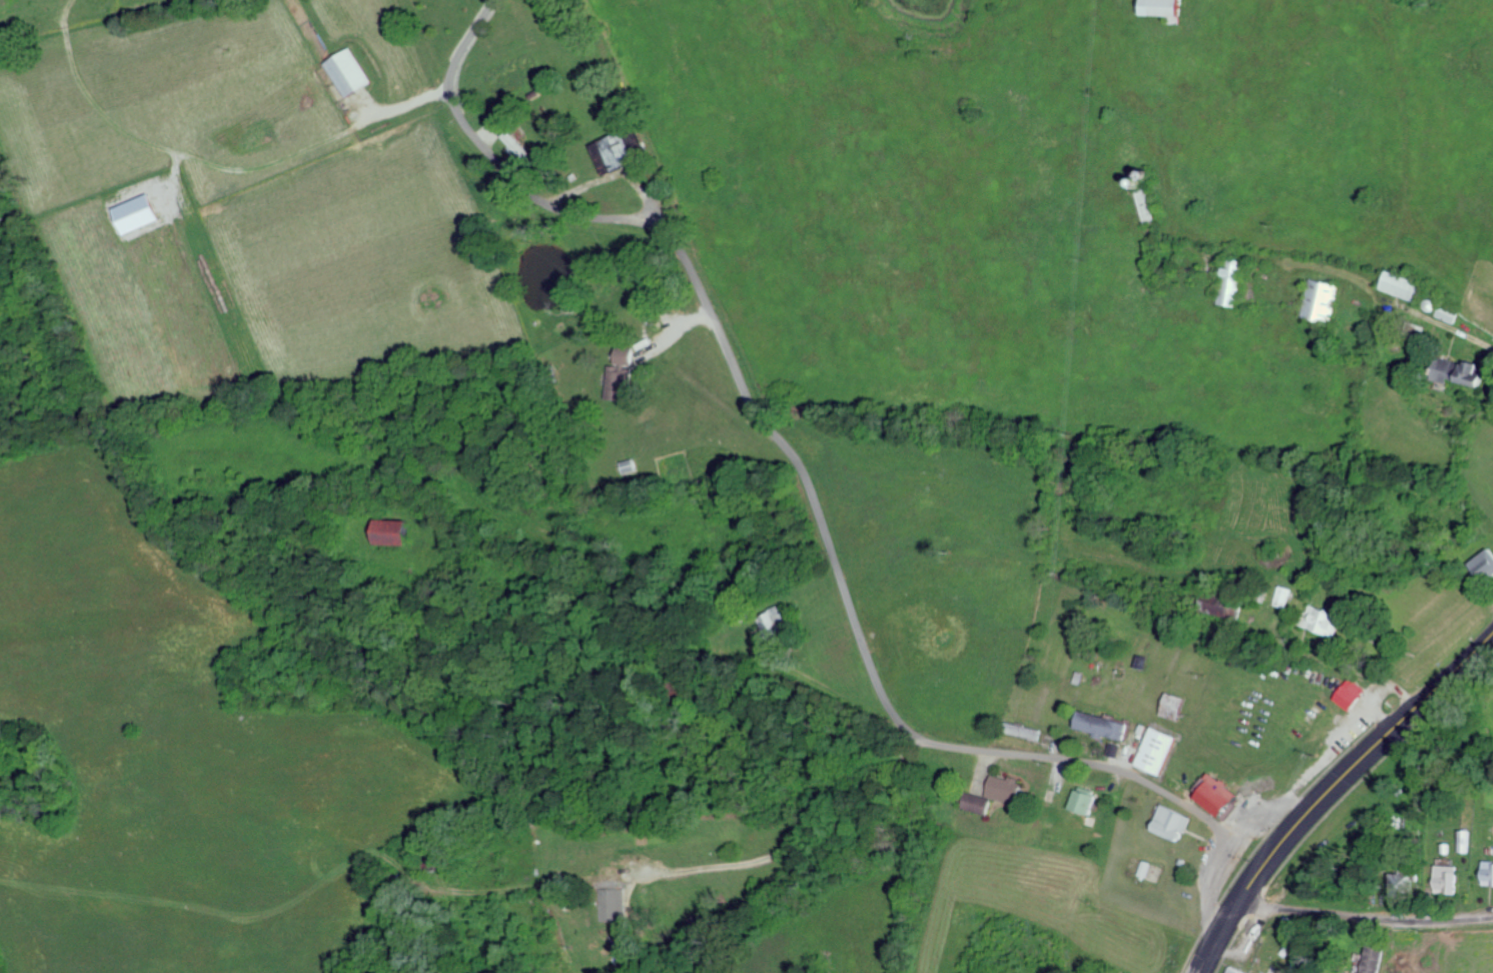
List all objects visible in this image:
building: (1156, 8)
building: (351, 72)
building: (621, 152)
building: (145, 212)
building: (1407, 285)
building: (1236, 286)
building: (1323, 298)
building: (1467, 371)
building: (625, 373)
road: (803, 481)
building: (401, 531)
building: (1486, 563)
building: (1330, 618)
building: (778, 623)
building: (1353, 694)
building: (1176, 706)
building: (1104, 725)
building: (1161, 749)
road: (901, 777)
road: (1329, 788)
building: (994, 794)
building: (1223, 798)
building: (1087, 800)
building: (1176, 822)
building: (1466, 840)
building: (1450, 873)
building: (1489, 873)
building: (615, 903)
road: (1366, 914)
building: (630, 939)
building: (1378, 958)
building: (1239, 970)

